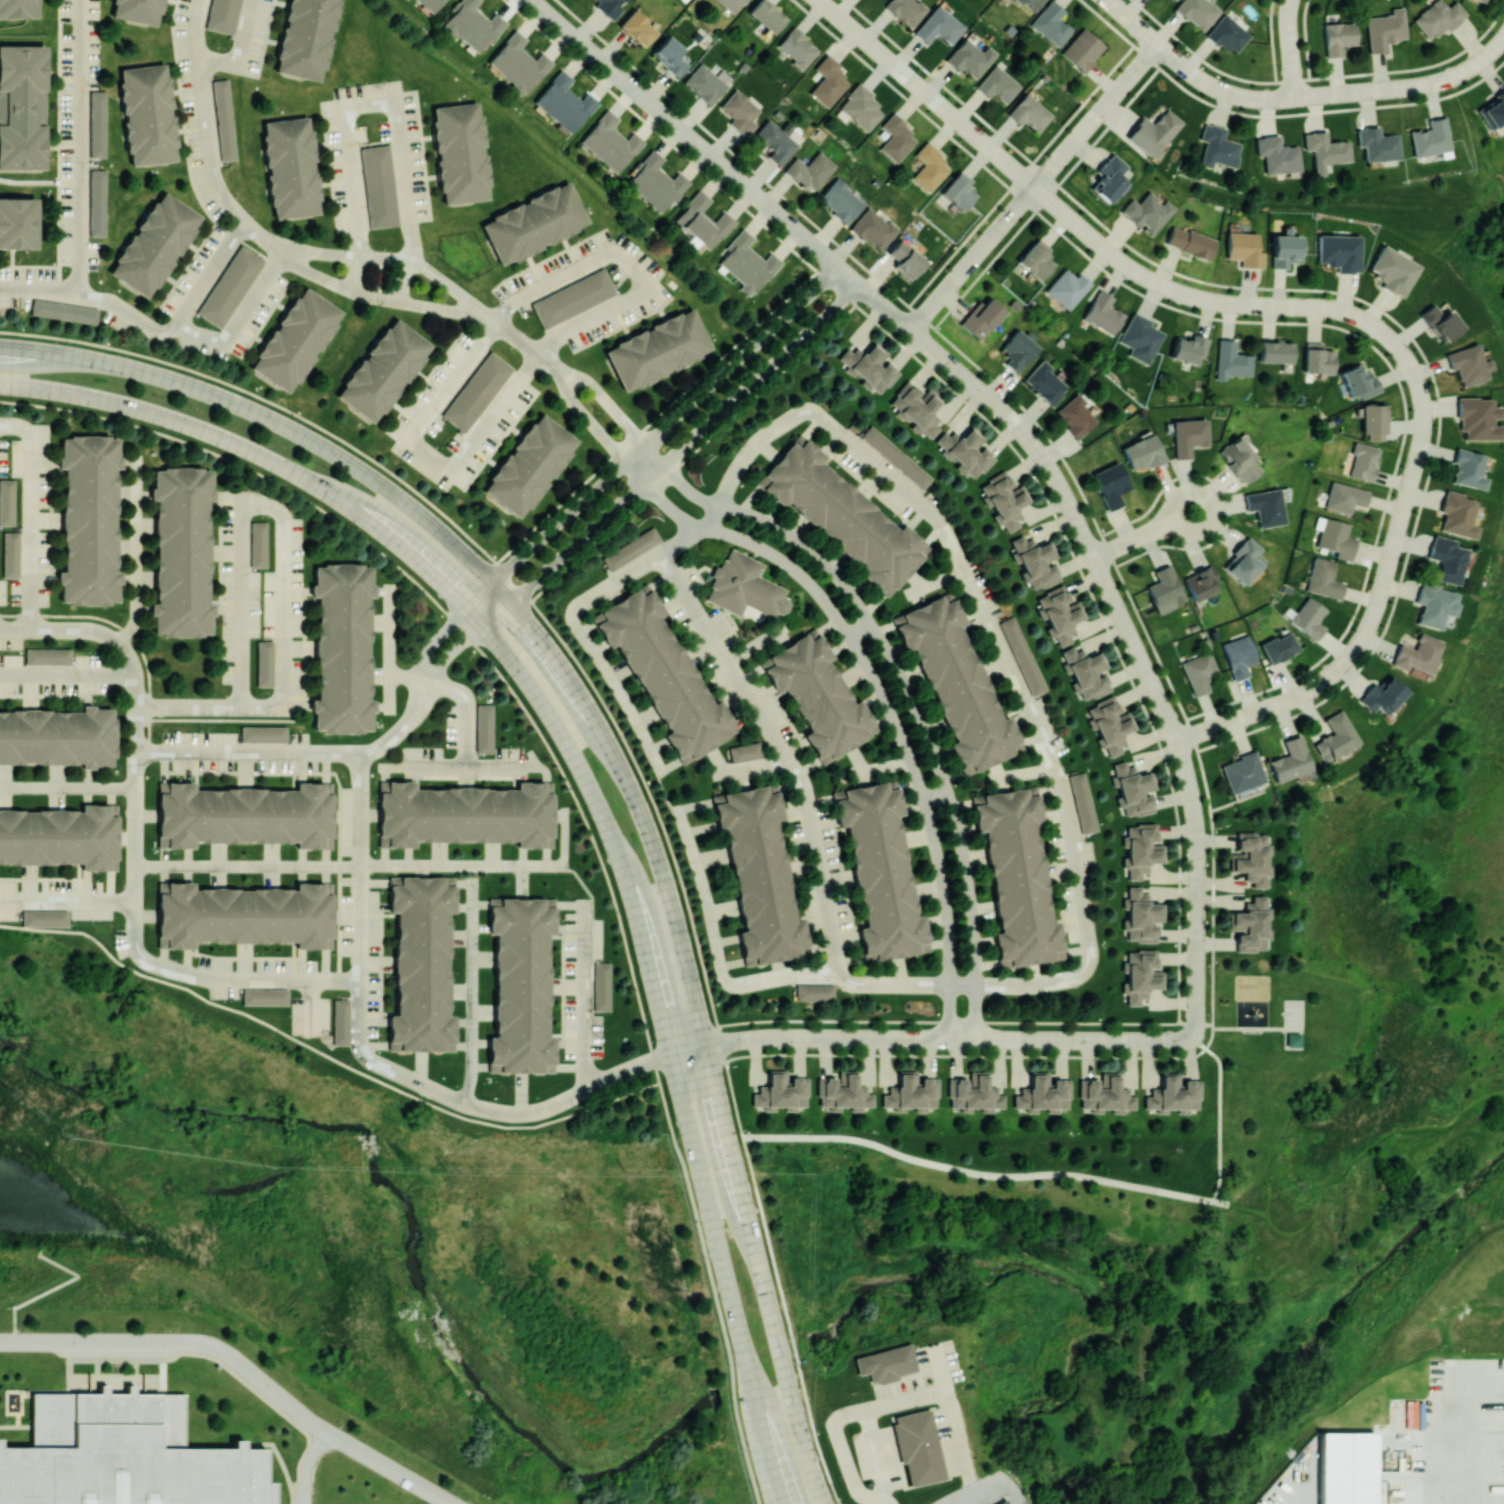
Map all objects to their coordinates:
building: (1478, 0)
building: (430, 4)
building: (730, 4)
building: (1029, 4)
building: (609, 7)
building: (20, 8)
building: (137, 11)
building: (904, 11)
building: (1196, 12)
building: (225, 16)
building: (765, 16)
building: (1437, 18)
building: (1050, 24)
building: (471, 25)
building: (937, 26)
building: (637, 28)
building: (1384, 30)
building: (1227, 34)
building: (306, 38)
building: (1338, 38)
building: (796, 48)
road: (1288, 48)
building: (1081, 50)
building: (669, 56)
building: (968, 58)
road: (218, 62)
building: (517, 64)
road: (1187, 72)
building: (827, 81)
building: (706, 83)
building: (996, 85)
road: (1406, 86)
road: (926, 93)
road: (375, 101)
building: (562, 103)
building: (22, 105)
building: (858, 108)
building: (1492, 111)
building: (739, 112)
building: (1028, 113)
building: (147, 115)
building: (225, 121)
building: (100, 126)
building: (1152, 133)
road: (682, 134)
building: (1430, 138)
building: (896, 139)
building: (777, 140)
building: (609, 143)
building: (1376, 145)
road: (59, 146)
road: (80, 147)
building: (1217, 147)
building: (1324, 151)
building: (459, 153)
building: (1276, 155)
building: (289, 168)
building: (929, 168)
building: (809, 171)
road: (213, 173)
building: (1108, 178)
road: (39, 182)
building: (381, 188)
road: (1033, 188)
building: (957, 191)
building: (839, 200)
building: (100, 205)
building: (1146, 213)
building: (701, 221)
building: (18, 223)
building: (532, 223)
building: (872, 229)
building: (1175, 237)
building: (153, 246)
building: (1284, 249)
building: (1243, 250)
building: (1338, 252)
building: (904, 258)
road: (390, 259)
building: (1035, 260)
road: (69, 263)
building: (746, 263)
road: (29, 265)
road: (628, 265)
building: (1392, 271)
road: (210, 272)
road: (354, 274)
road: (402, 281)
road: (37, 289)
building: (232, 289)
building: (1067, 289)
road: (375, 298)
building: (573, 299)
building: (67, 314)
road: (127, 314)
building: (1102, 314)
building: (980, 318)
road: (239, 319)
building: (1439, 322)
building: (1139, 338)
building: (295, 340)
road: (517, 341)
building: (1018, 349)
building: (1188, 349)
building: (657, 350)
road: (33, 351)
building: (1275, 352)
building: (1317, 359)
building: (1231, 360)
building: (1467, 364)
building: (869, 367)
building: (382, 370)
building: (1357, 382)
building: (1044, 383)
building: (476, 389)
road: (1420, 395)
building: (915, 408)
road: (614, 409)
building: (1074, 416)
building: (1478, 419)
building: (1373, 421)
road: (595, 428)
building: (1187, 436)
road: (650, 438)
street lamp: (10, 444)
building: (964, 451)
building: (1141, 453)
road: (671, 456)
road: (431, 457)
building: (898, 458)
building: (1239, 458)
building: (1363, 462)
road: (45, 463)
building: (528, 465)
building: (1468, 469)
road: (1050, 472)
road: (59, 473)
street lamp: (10, 474)
building: (1110, 484)
road: (228, 495)
building: (1343, 498)
road: (241, 499)
building: (1003, 499)
road: (215, 504)
building: (8, 505)
building: (1264, 507)
building: (1457, 515)
road: (30, 516)
building: (842, 516)
street lamp: (264, 517)
road: (53, 520)
building: (92, 522)
road: (1146, 533)
road: (389, 539)
road: (682, 542)
building: (260, 545)
building: (631, 549)
road: (137, 552)
road: (221, 552)
building: (184, 553)
building: (13, 555)
building: (1446, 559)
building: (1034, 561)
building: (1242, 561)
road: (60, 570)
street lamp: (1085, 571)
road: (45, 577)
building: (1322, 579)
building: (1199, 583)
road: (936, 584)
building: (747, 587)
road: (298, 590)
building: (1164, 590)
road: (500, 592)
road: (312, 600)
road: (216, 602)
street lamp: (10, 603)
street lamp: (263, 605)
building: (1434, 605)
road: (240, 607)
road: (228, 610)
road: (282, 611)
building: (1058, 614)
building: (1308, 618)
road: (859, 630)
road: (125, 631)
road: (94, 633)
road: (994, 639)
road: (756, 646)
road: (303, 647)
road: (589, 647)
building: (1278, 647)
building: (343, 648)
road: (390, 649)
street lamp: (1151, 650)
street lamp: (90, 652)
building: (1417, 654)
road: (425, 656)
building: (1238, 656)
building: (1022, 657)
building: (49, 658)
road: (724, 658)
building: (266, 665)
street lamp: (1324, 665)
road: (443, 666)
building: (1198, 672)
building: (1085, 673)
building: (663, 674)
road: (67, 675)
street lamp: (507, 676)
road: (403, 678)
building: (956, 683)
road: (90, 690)
street lamp: (262, 693)
building: (817, 696)
road: (910, 696)
building: (1381, 696)
road: (45, 697)
road: (310, 697)
street lamp: (20, 700)
street lamp: (95, 700)
road: (80, 704)
road: (296, 704)
road: (886, 705)
road: (187, 708)
road: (466, 709)
road: (229, 720)
building: (1109, 724)
street lamp: (446, 725)
building: (485, 729)
street lamp: (202, 730)
road: (135, 731)
street lamp: (300, 731)
building: (265, 735)
building: (57, 737)
street lamp: (619, 737)
building: (1335, 738)
street lamp: (426, 747)
street lamp: (511, 747)
road: (282, 754)
building: (746, 754)
street lamp: (1196, 755)
building: (1290, 760)
road: (166, 768)
road: (327, 769)
road: (882, 769)
road: (459, 771)
road: (752, 771)
building: (1241, 772)
road: (1023, 774)
street lamp: (178, 776)
street lamp: (236, 777)
street lamp: (315, 777)
road: (410, 777)
road: (524, 777)
road: (467, 778)
road: (198, 782)
road: (295, 782)
road: (418, 784)
road: (516, 785)
road: (67, 788)
building: (165, 788)
building: (331, 789)
building: (384, 789)
building: (550, 789)
building: (1132, 789)
road: (341, 792)
road: (935, 794)
street lamp: (372, 801)
building: (1083, 804)
building: (114, 811)
building: (248, 816)
building: (467, 817)
road: (134, 827)
building: (59, 838)
building: (165, 843)
building: (331, 844)
building: (384, 844)
building: (550, 844)
building: (1140, 849)
street lamp: (603, 854)
building: (1251, 858)
road: (818, 865)
building: (114, 866)
road: (247, 867)
road: (490, 867)
road: (360, 868)
road: (80, 872)
building: (880, 872)
building: (759, 876)
street lamp: (40, 877)
building: (1016, 877)
road: (44, 880)
street lamp: (98, 881)
building: (395, 883)
building: (450, 883)
road: (582, 883)
road: (88, 886)
street lamp: (1185, 886)
road: (1197, 888)
building: (163, 889)
building: (329, 890)
street lamp: (382, 893)
road: (66, 900)
building: (495, 905)
building: (550, 905)
road: (375, 908)
road: (389, 916)
building: (1140, 916)
building: (246, 917)
building: (46, 919)
street lamp: (564, 921)
street lamp: (93, 922)
building: (1250, 925)
road: (570, 929)
street lamp: (693, 933)
road: (557, 938)
building: (163, 944)
building: (329, 945)
road: (197, 949)
road: (716, 950)
road: (294, 952)
street lamp: (257, 954)
street lamp: (334, 955)
road: (245, 959)
street lamp: (176, 960)
road: (188, 962)
road: (381, 965)
road: (303, 966)
building: (423, 966)
road: (648, 969)
building: (1139, 975)
road: (195, 977)
street lamp: (388, 977)
street lamp: (560, 977)
road: (335, 981)
road: (564, 986)
road: (905, 986)
building: (522, 988)
building: (604, 989)
building: (813, 992)
road: (470, 994)
road: (585, 995)
building: (267, 998)
street lamp: (224, 1002)
road: (1447, 1005)
road: (311, 1007)
road: (389, 1014)
park: (1293, 1014)
street lamp: (290, 1016)
road: (375, 1022)
building: (344, 1024)
street lamp: (1179, 1028)
road: (1248, 1029)
street lamp: (381, 1035)
road: (556, 1036)
road: (930, 1038)
street lamp: (653, 1040)
park: (1293, 1041)
building: (1294, 1042)
road: (570, 1044)
building: (395, 1049)
building: (450, 1049)
street lamp: (813, 1052)
street lamp: (944, 1052)
street lamp: (1075, 1054)
road: (325, 1055)
street lamp: (564, 1060)
road: (629, 1068)
building: (495, 1071)
building: (550, 1071)
road: (657, 1071)
street lamp: (457, 1086)
road: (732, 1090)
building: (780, 1092)
building: (841, 1092)
road: (441, 1093)
building: (910, 1093)
building: (972, 1094)
building: (1042, 1094)
building: (1104, 1095)
building: (1172, 1095)
street lamp: (576, 1109)
road: (1220, 1114)
road: (728, 1134)
street lamp: (681, 1148)
power tower: (805, 1175)
road: (985, 1176)
road: (1337, 1178)
road: (1249, 1209)
road: (712, 1231)
street lamp: (702, 1257)
road: (178, 1343)
road: (783, 1363)
building: (890, 1365)
street lamp: (728, 1366)
road: (910, 1398)
road: (1451, 1444)
building: (919, 1448)
street lamp: (741, 1451)
building: (127, 1456)
road: (769, 1456)
road: (307, 1466)
building: (1345, 1468)
road: (387, 1469)
road: (980, 1493)
building: (1006, 1502)

